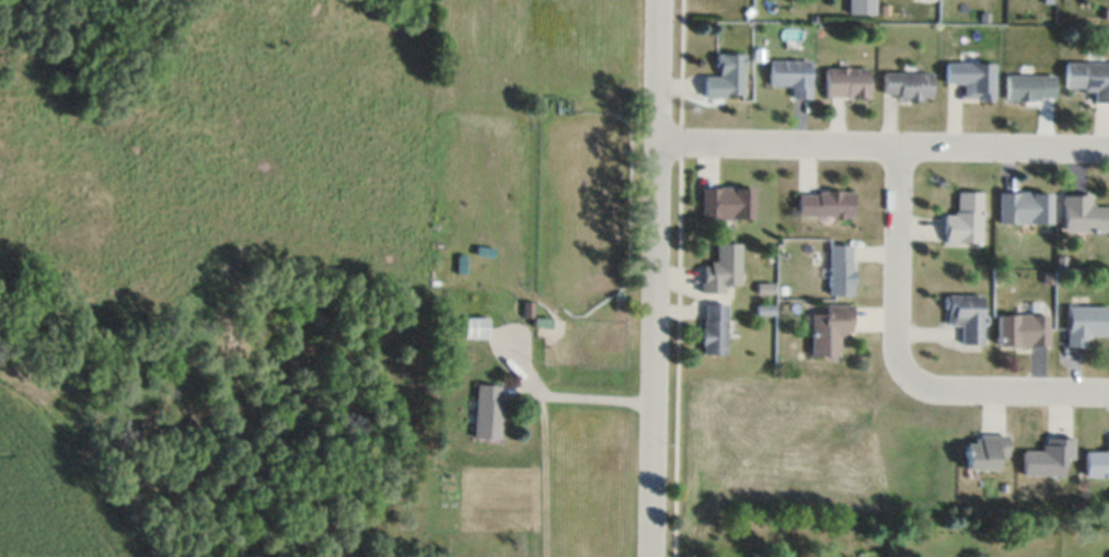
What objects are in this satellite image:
building: (860, 7)
building: (790, 76)
building: (726, 77)
building: (1088, 78)
building: (972, 79)
building: (846, 82)
building: (908, 85)
building: (1030, 88)
road: (883, 142)
building: (726, 202)
building: (824, 204)
building: (1025, 207)
building: (1084, 214)
building: (966, 220)
building: (721, 269)
building: (841, 269)
road: (656, 278)
building: (966, 316)
building: (1086, 323)
building: (473, 327)
building: (713, 328)
building: (830, 329)
building: (1021, 329)
road: (900, 362)
road: (559, 403)
building: (486, 411)
building: (984, 451)
building: (1048, 456)
building: (1096, 463)
road: (539, 476)

